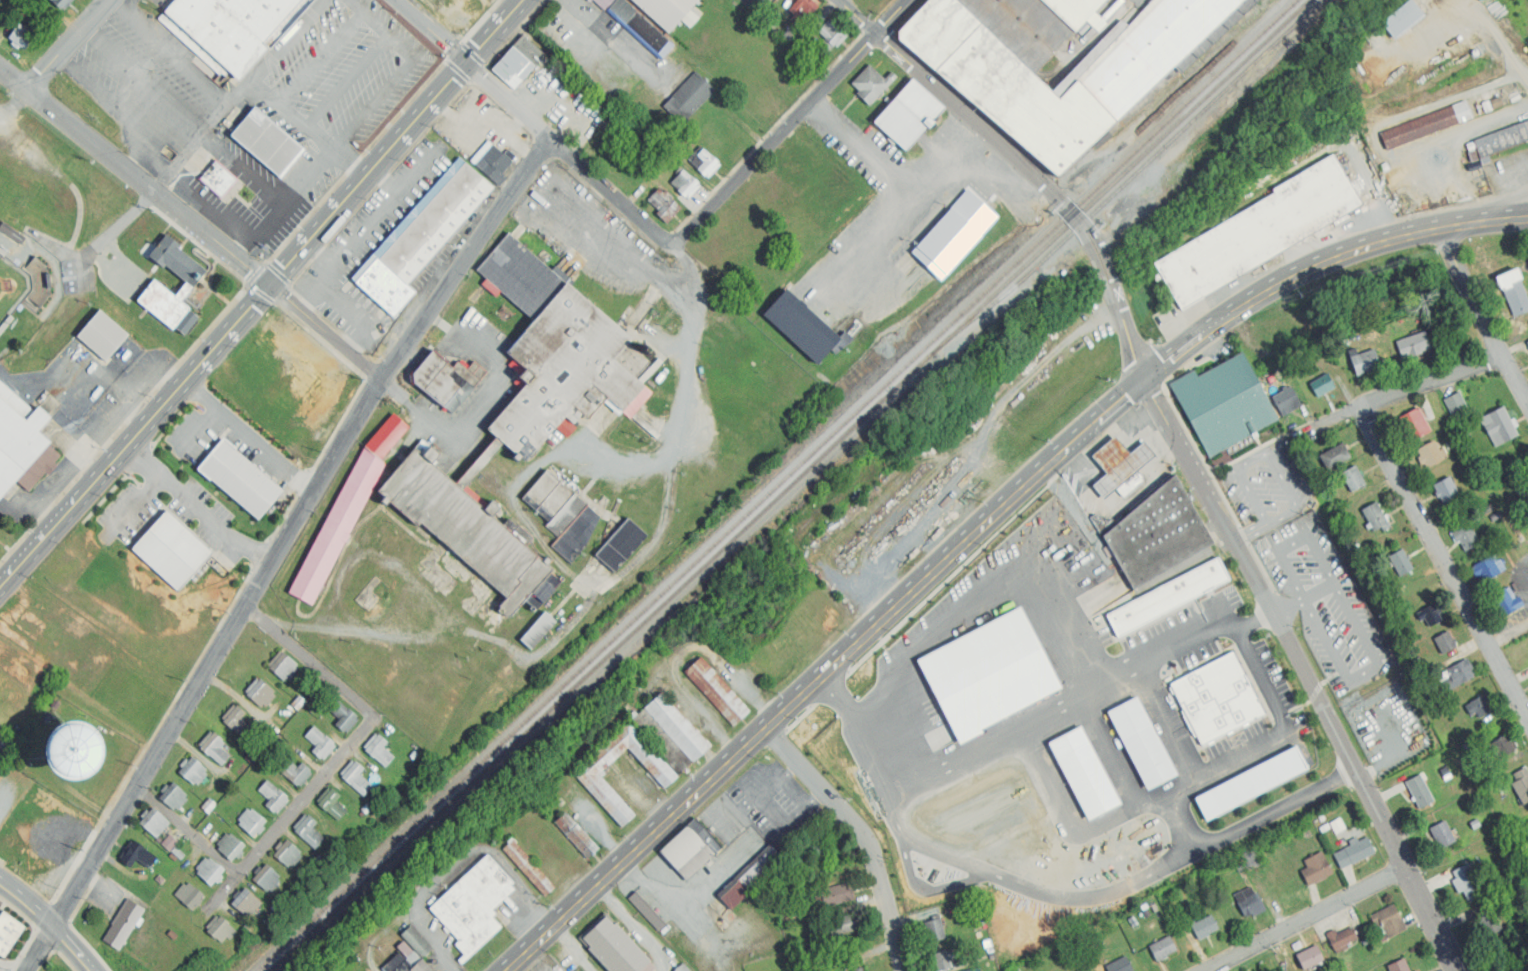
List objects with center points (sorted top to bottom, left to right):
building: (0, 1)
building: (60, 3)
road: (129, 5)
building: (801, 6)
building: (653, 17)
building: (1404, 20)
building: (236, 27)
road: (432, 34)
road: (1498, 34)
building: (829, 35)
building: (19, 38)
road: (286, 39)
road: (68, 45)
road: (168, 50)
building: (529, 50)
road: (322, 58)
building: (513, 67)
traffic signals: (471, 68)
parking lot: (353, 71)
road: (402, 72)
road: (144, 79)
road: (348, 80)
parking lot: (148, 83)
building: (870, 84)
building: (999, 87)
road: (239, 91)
road: (104, 96)
building: (688, 97)
building: (1499, 100)
road: (293, 113)
building: (909, 115)
road: (212, 117)
road: (793, 123)
building: (1427, 127)
building: (1503, 139)
road: (1376, 140)
building: (268, 143)
road: (137, 152)
road: (155, 160)
building: (493, 160)
building: (705, 161)
road: (177, 163)
road: (353, 163)
building: (793, 167)
road: (1022, 168)
road: (894, 170)
road: (309, 177)
road: (136, 178)
building: (219, 179)
railway: (1130, 180)
building: (686, 183)
road: (260, 185)
road: (610, 192)
road: (208, 206)
building: (664, 206)
parking lot: (236, 207)
road: (1503, 211)
building: (437, 225)
road: (882, 232)
building: (954, 233)
building: (1259, 234)
road: (111, 236)
road: (240, 248)
parking lot: (370, 248)
road: (619, 251)
road: (465, 260)
building: (177, 261)
parking lot: (72, 278)
building: (39, 282)
traffic signals: (273, 287)
building: (386, 288)
building: (1514, 293)
road: (266, 294)
stadium: (30, 302)
building: (168, 309)
road: (1482, 315)
building: (801, 327)
road: (327, 333)
building: (103, 336)
building: (1412, 345)
building: (554, 348)
building: (1365, 362)
building: (449, 378)
traffic signals: (1145, 380)
building: (1323, 385)
road: (1402, 392)
building: (1286, 401)
building: (1457, 401)
building: (1224, 403)
road: (469, 416)
road: (1136, 416)
road: (683, 418)
building: (1415, 423)
road: (1119, 425)
building: (1501, 425)
building: (564, 427)
building: (22, 444)
road: (1265, 452)
building: (1430, 454)
building: (1334, 456)
building: (1122, 462)
building: (1353, 478)
building: (240, 480)
building: (1129, 481)
railway: (775, 484)
railway: (787, 484)
building: (1447, 489)
building: (1522, 491)
road: (137, 503)
road: (196, 508)
building: (345, 512)
building: (563, 514)
building: (1375, 517)
road: (980, 530)
road: (1251, 531)
building: (467, 532)
building: (1157, 534)
building: (1465, 535)
road: (1293, 540)
building: (621, 545)
building: (172, 551)
road: (1443, 561)
building: (1401, 563)
building: (1485, 568)
road: (1518, 572)
road: (421, 584)
building: (1167, 597)
road: (1306, 598)
building: (1506, 602)
road: (962, 611)
building: (1430, 615)
building: (540, 628)
road: (1509, 636)
building: (1445, 641)
road: (1180, 642)
road: (683, 651)
road: (216, 652)
building: (283, 666)
road: (1364, 672)
building: (989, 673)
road: (1305, 674)
building: (1458, 674)
building: (717, 691)
building: (260, 693)
building: (1217, 699)
building: (1478, 706)
building: (342, 716)
road: (1171, 717)
building: (236, 722)
building: (676, 727)
road: (363, 734)
road: (990, 737)
building: (319, 742)
building: (1141, 743)
building: (1502, 746)
building: (213, 750)
building: (378, 751)
road: (876, 756)
water tower: (71, 760)
building: (0, 769)
building: (192, 770)
road: (791, 770)
building: (294, 772)
building: (1084, 773)
building: (586, 775)
building: (355, 778)
road: (1182, 783)
building: (1251, 784)
building: (1521, 784)
road: (797, 790)
building: (1420, 791)
building: (172, 797)
building: (273, 797)
road: (752, 799)
building: (331, 805)
road: (1276, 807)
road: (1183, 819)
road: (790, 821)
building: (153, 823)
building: (252, 823)
building: (1338, 824)
road: (188, 830)
building: (307, 832)
road: (861, 833)
road: (1524, 833)
building: (1442, 834)
building: (577, 835)
building: (169, 843)
building: (231, 847)
building: (690, 850)
building: (819, 850)
building: (1354, 853)
building: (287, 854)
building: (139, 856)
road: (950, 856)
building: (1248, 859)
building: (761, 865)
building: (529, 868)
building: (1316, 868)
building: (209, 872)
road: (719, 872)
building: (266, 878)
road: (438, 879)
road: (1013, 880)
building: (1467, 882)
building: (735, 892)
road: (223, 893)
building: (835, 894)
building: (192, 898)
building: (243, 901)
building: (1252, 905)
road: (26, 906)
road: (539, 906)
building: (473, 907)
building: (649, 910)
road: (671, 911)
road: (1303, 918)
building: (1389, 920)
building: (1488, 923)
building: (121, 924)
building: (842, 924)
road: (636, 925)
building: (1204, 927)
building: (217, 928)
building: (934, 930)
building: (8, 934)
building: (1341, 937)
road: (575, 946)
building: (612, 946)
road: (39, 948)
road: (71, 948)
building: (1162, 948)
building: (410, 954)
building: (1309, 958)
building: (941, 959)
road: (535, 961)
building: (1120, 965)
building: (1398, 965)
building: (684, 967)
building: (857, 969)
building: (974, 969)
building: (861, 970)
building: (1081, 970)
building: (1419, 970)

